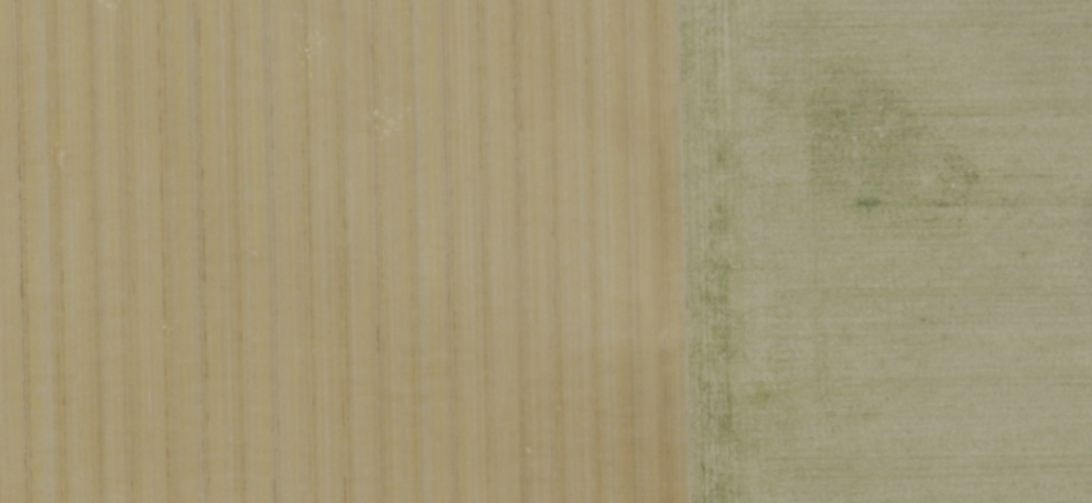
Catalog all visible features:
crop: (545, 251)

